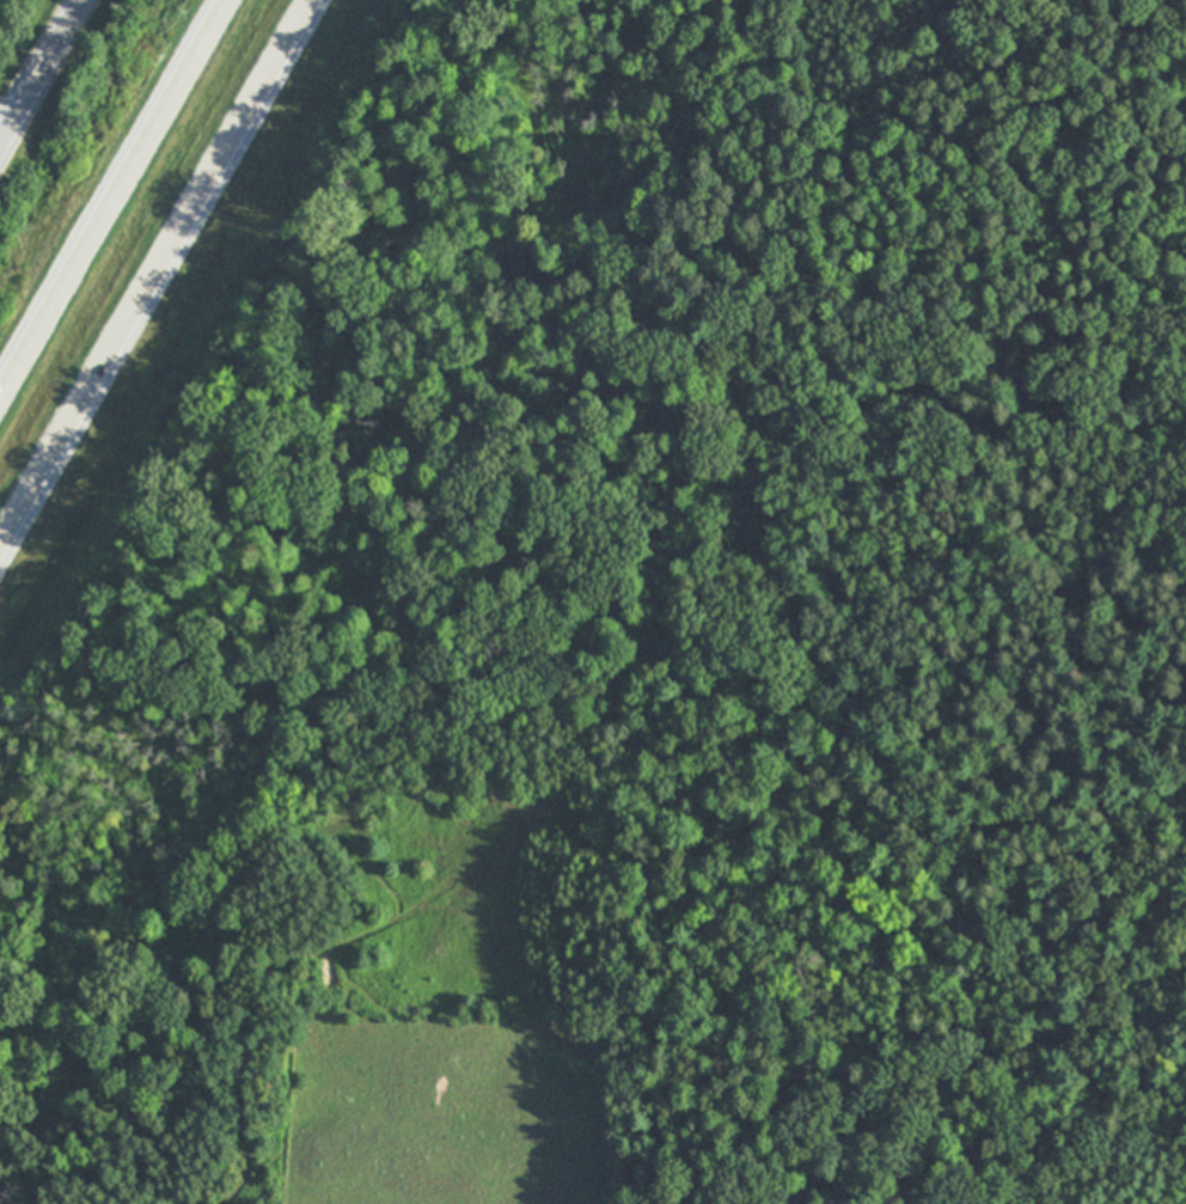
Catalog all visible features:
road: (42, 73)
road: (2, 139)
road: (114, 201)
road: (157, 276)

